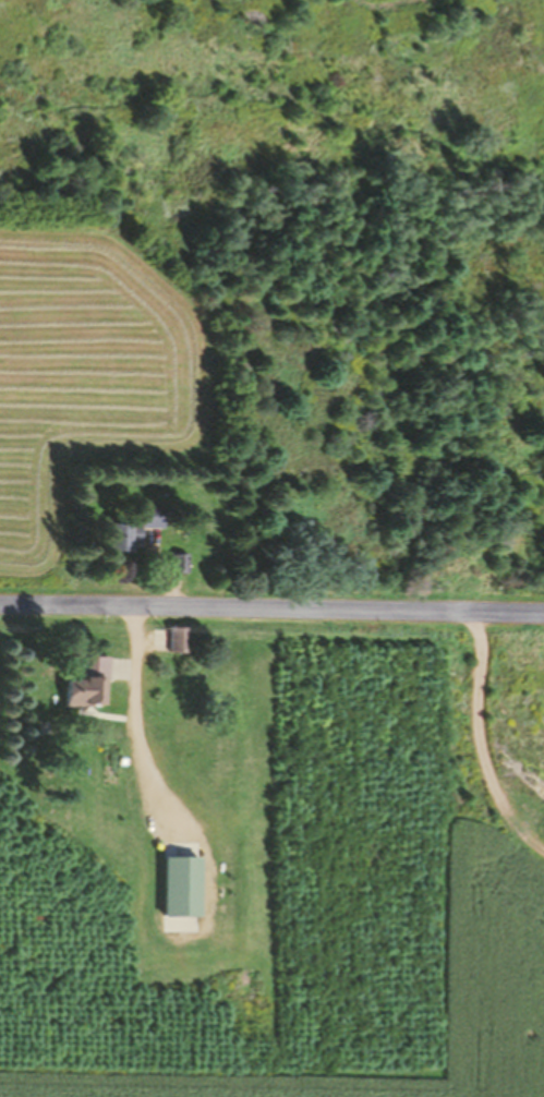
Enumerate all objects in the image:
building: (178, 564)
road: (271, 606)
building: (177, 639)
building: (88, 683)
building: (190, 689)
building: (180, 887)

